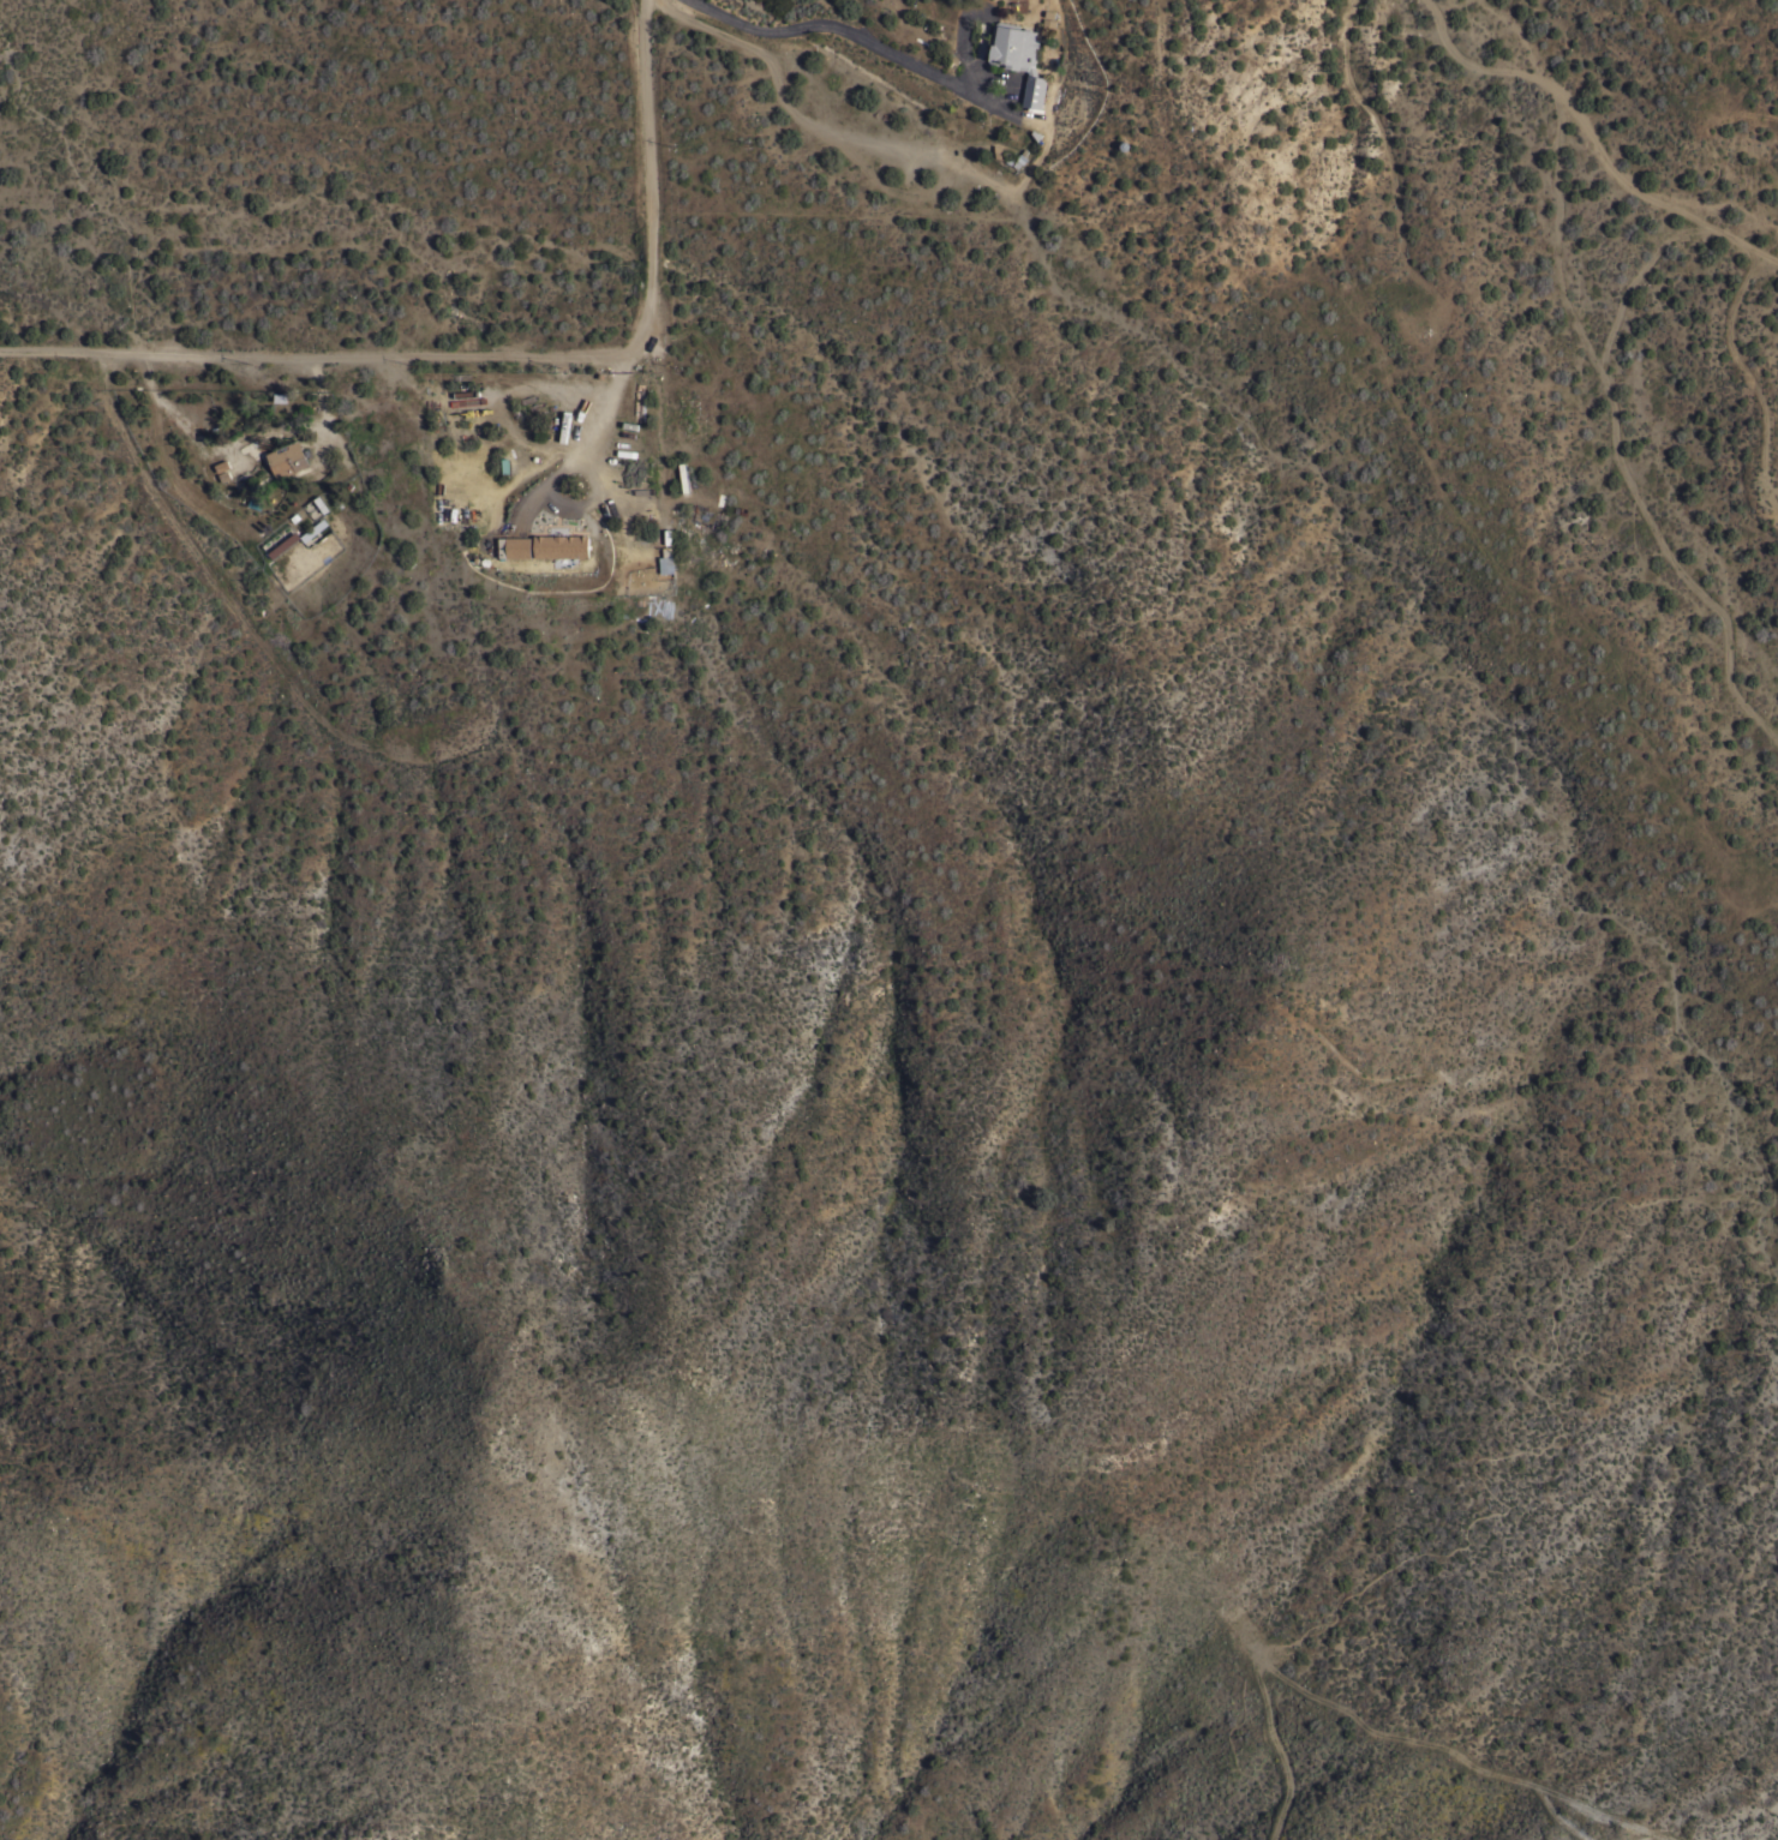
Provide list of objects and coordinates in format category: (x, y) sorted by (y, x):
road: (834, 31)
building: (1017, 56)
road: (498, 352)
building: (287, 458)
building: (283, 545)
building: (559, 545)
building: (517, 546)
building: (665, 559)

